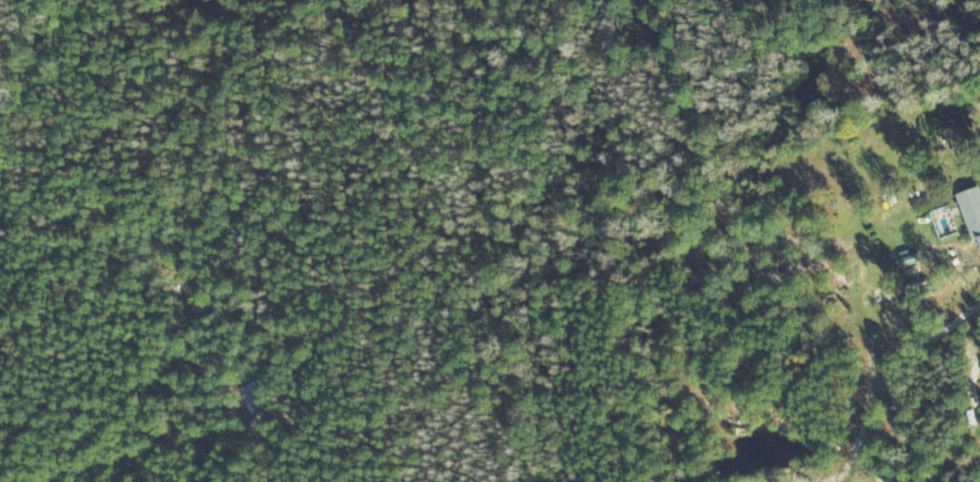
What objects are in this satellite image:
building: (972, 210)
road: (87, 250)
road: (201, 389)
building: (252, 390)

